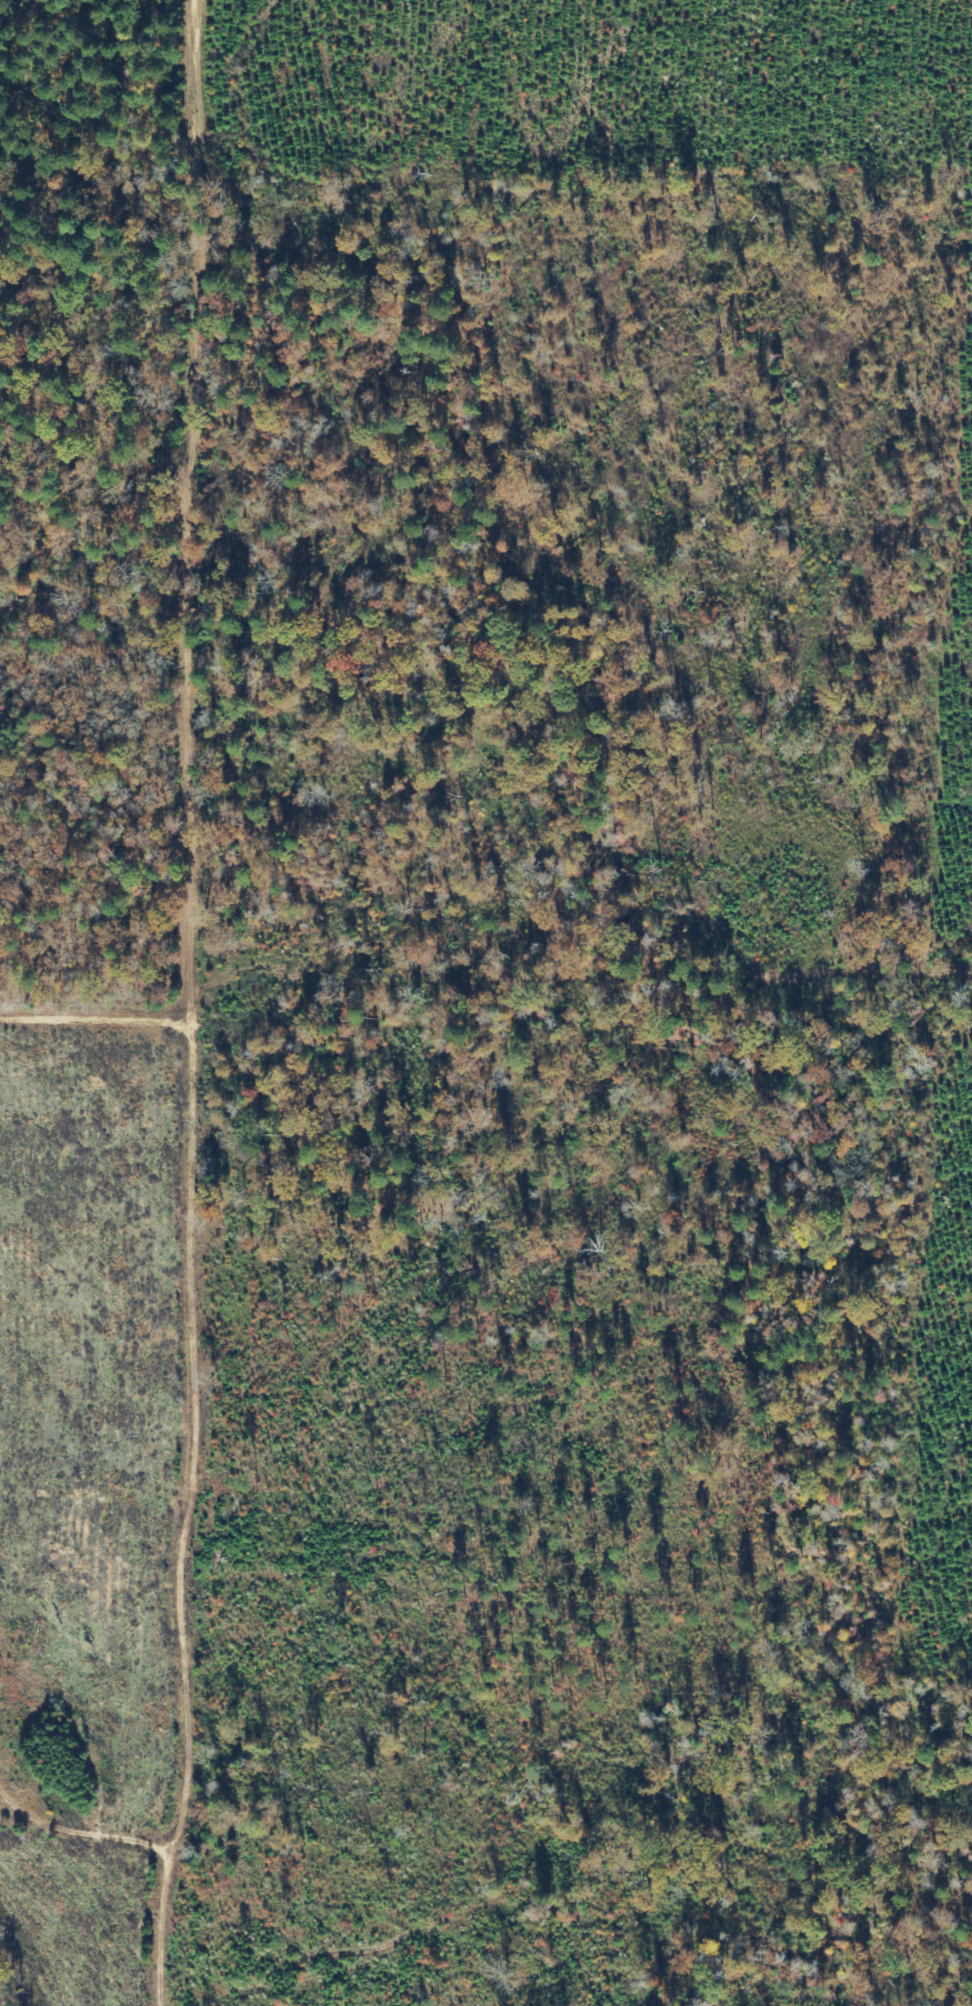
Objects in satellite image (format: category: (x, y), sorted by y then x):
road: (208, 1003)

